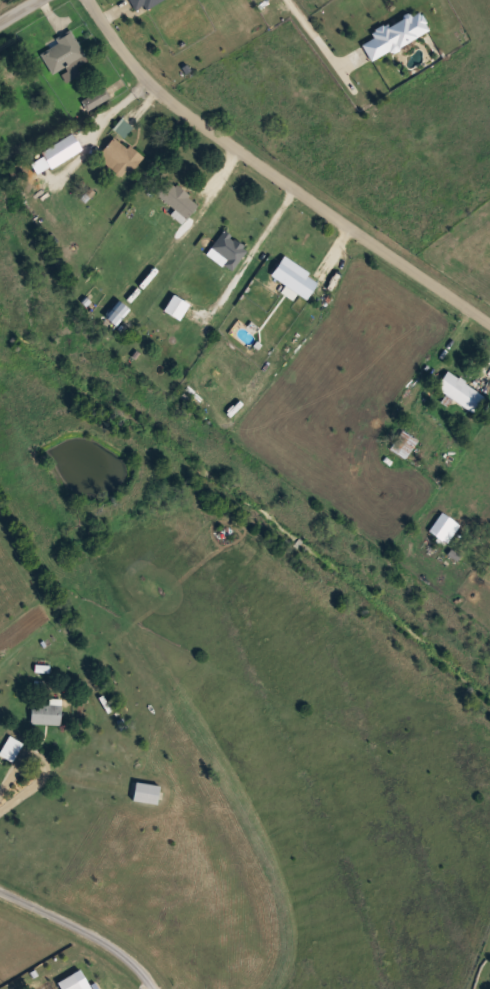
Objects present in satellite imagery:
building: (140, 4)
road: (19, 11)
building: (394, 33)
building: (62, 56)
building: (94, 98)
building: (117, 156)
road: (273, 177)
building: (175, 198)
building: (227, 249)
building: (292, 277)
building: (114, 314)
building: (458, 391)
building: (401, 444)
building: (443, 528)
building: (45, 714)
building: (10, 748)
building: (145, 793)
road: (83, 931)

